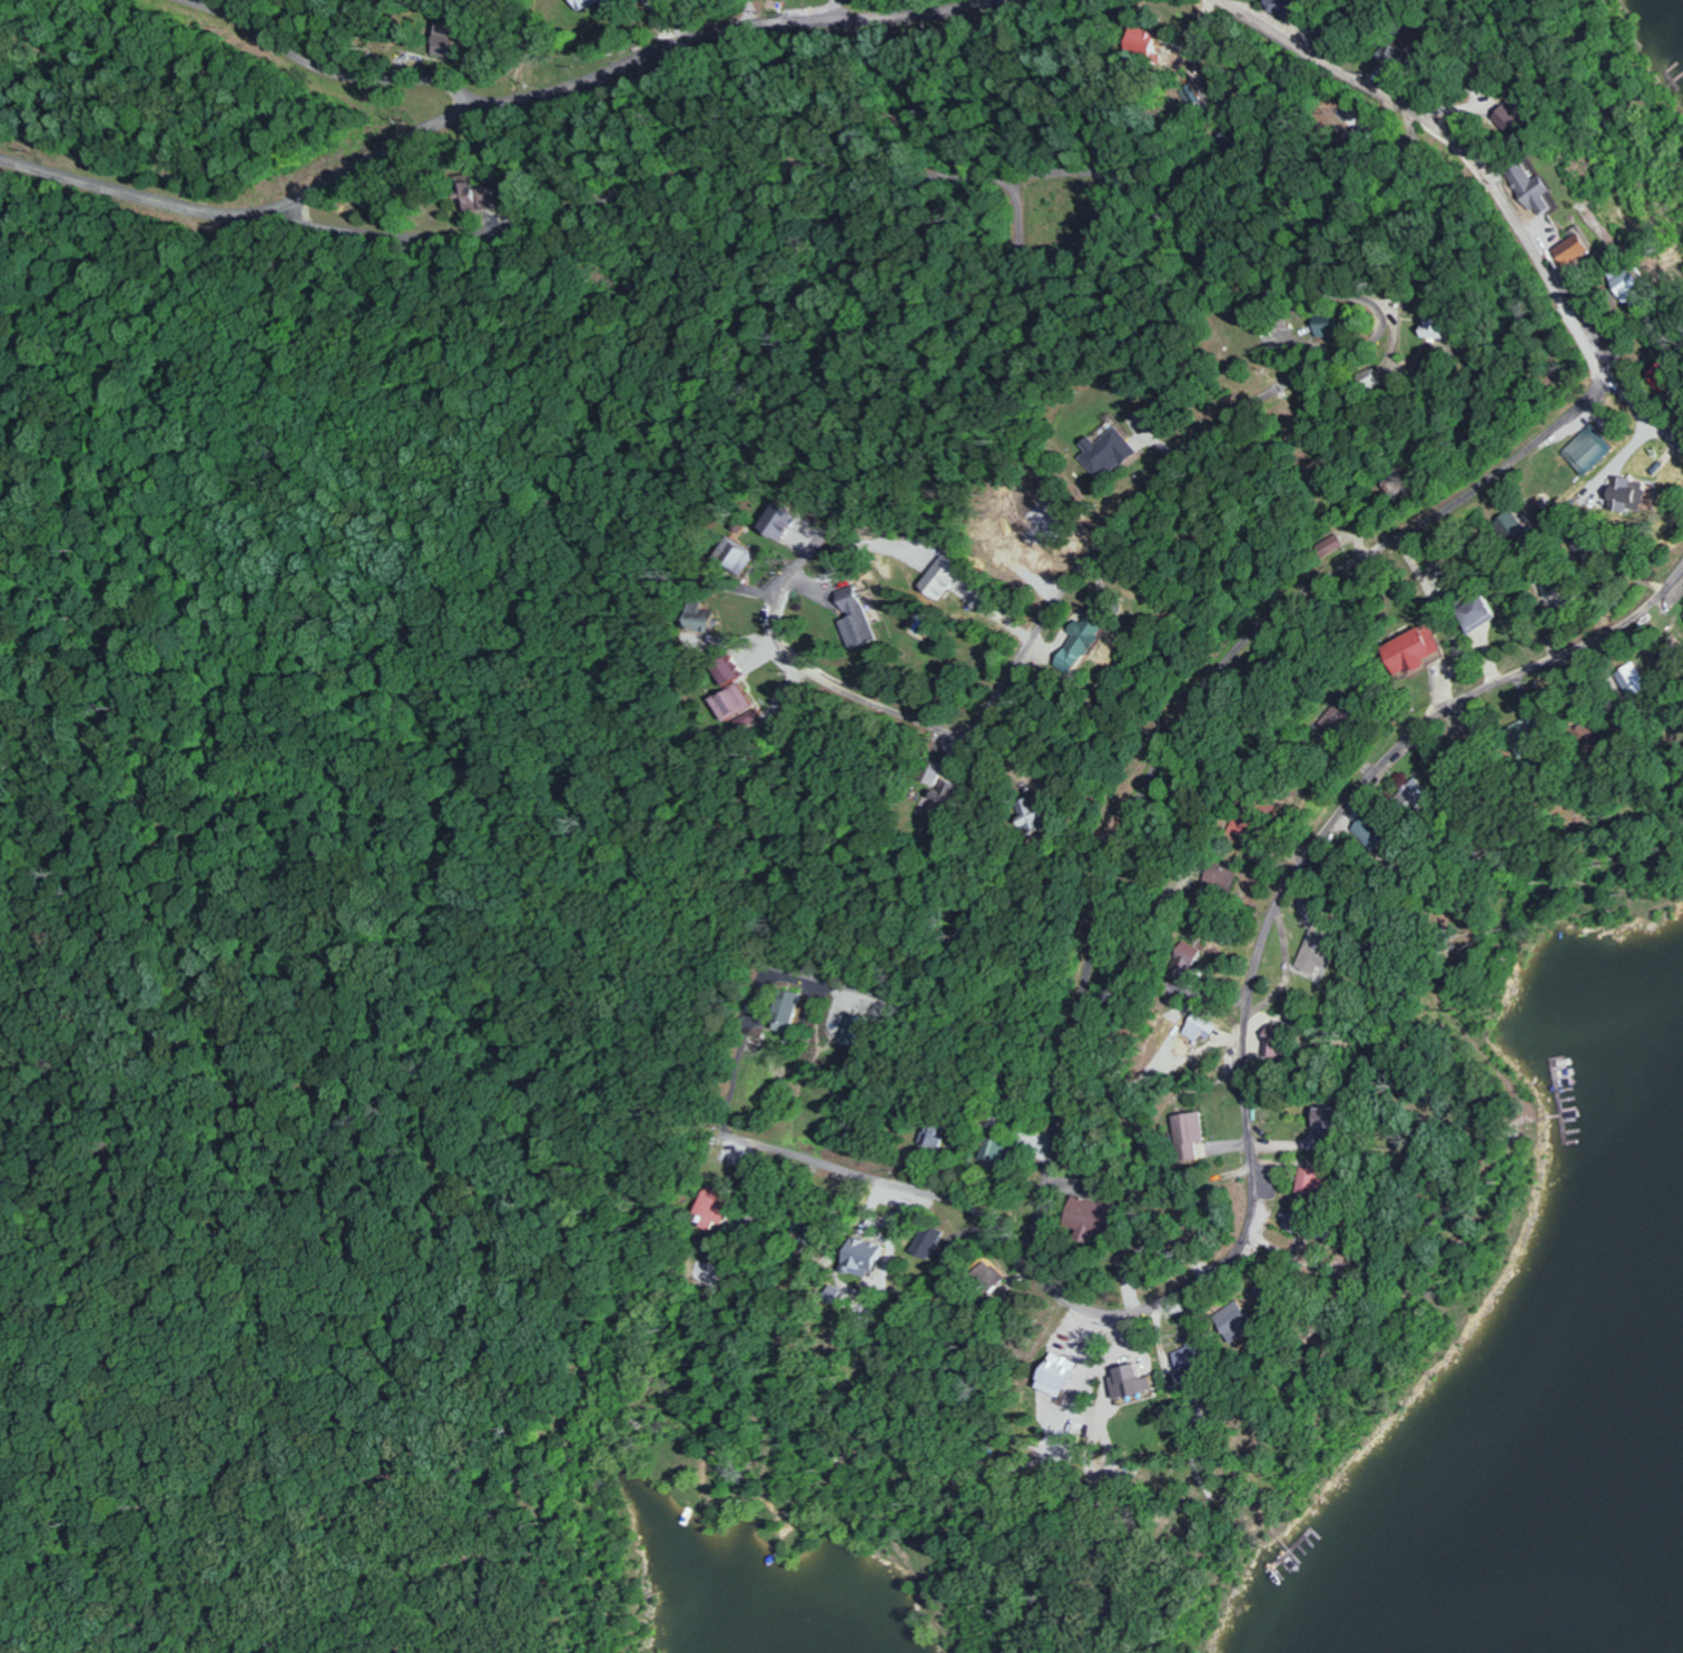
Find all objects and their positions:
building: (592, 3)
road: (1138, 4)
building: (1285, 7)
road: (1067, 16)
building: (445, 41)
building: (1148, 41)
building: (1401, 59)
building: (1519, 118)
building: (1537, 189)
building: (479, 198)
road: (1023, 198)
building: (1574, 249)
building: (1632, 285)
building: (1440, 325)
building: (1330, 328)
building: (1665, 380)
road: (1652, 410)
building: (1111, 449)
building: (1587, 450)
building: (1630, 493)
building: (780, 521)
road: (846, 530)
building: (1327, 545)
building: (737, 554)
building: (942, 575)
building: (1473, 613)
building: (699, 616)
building: (854, 620)
building: (1079, 642)
building: (1409, 648)
building: (721, 671)
building: (1633, 679)
building: (731, 706)
building: (1337, 717)
road: (1198, 724)
building: (1524, 735)
building: (928, 771)
building: (1416, 796)
building: (937, 798)
building: (1031, 815)
building: (1370, 832)
building: (1312, 951)
building: (1184, 961)
building: (781, 1011)
road: (951, 1016)
building: (1198, 1027)
road: (1281, 1113)
building: (1325, 1118)
park: (329, 1133)
building: (1190, 1134)
building: (994, 1147)
building: (1311, 1182)
building: (710, 1206)
building: (1086, 1214)
building: (1293, 1221)
building: (924, 1243)
building: (858, 1258)
building: (983, 1278)
building: (830, 1293)
building: (1234, 1322)
building: (1189, 1355)
building: (1054, 1375)
building: (1128, 1381)

